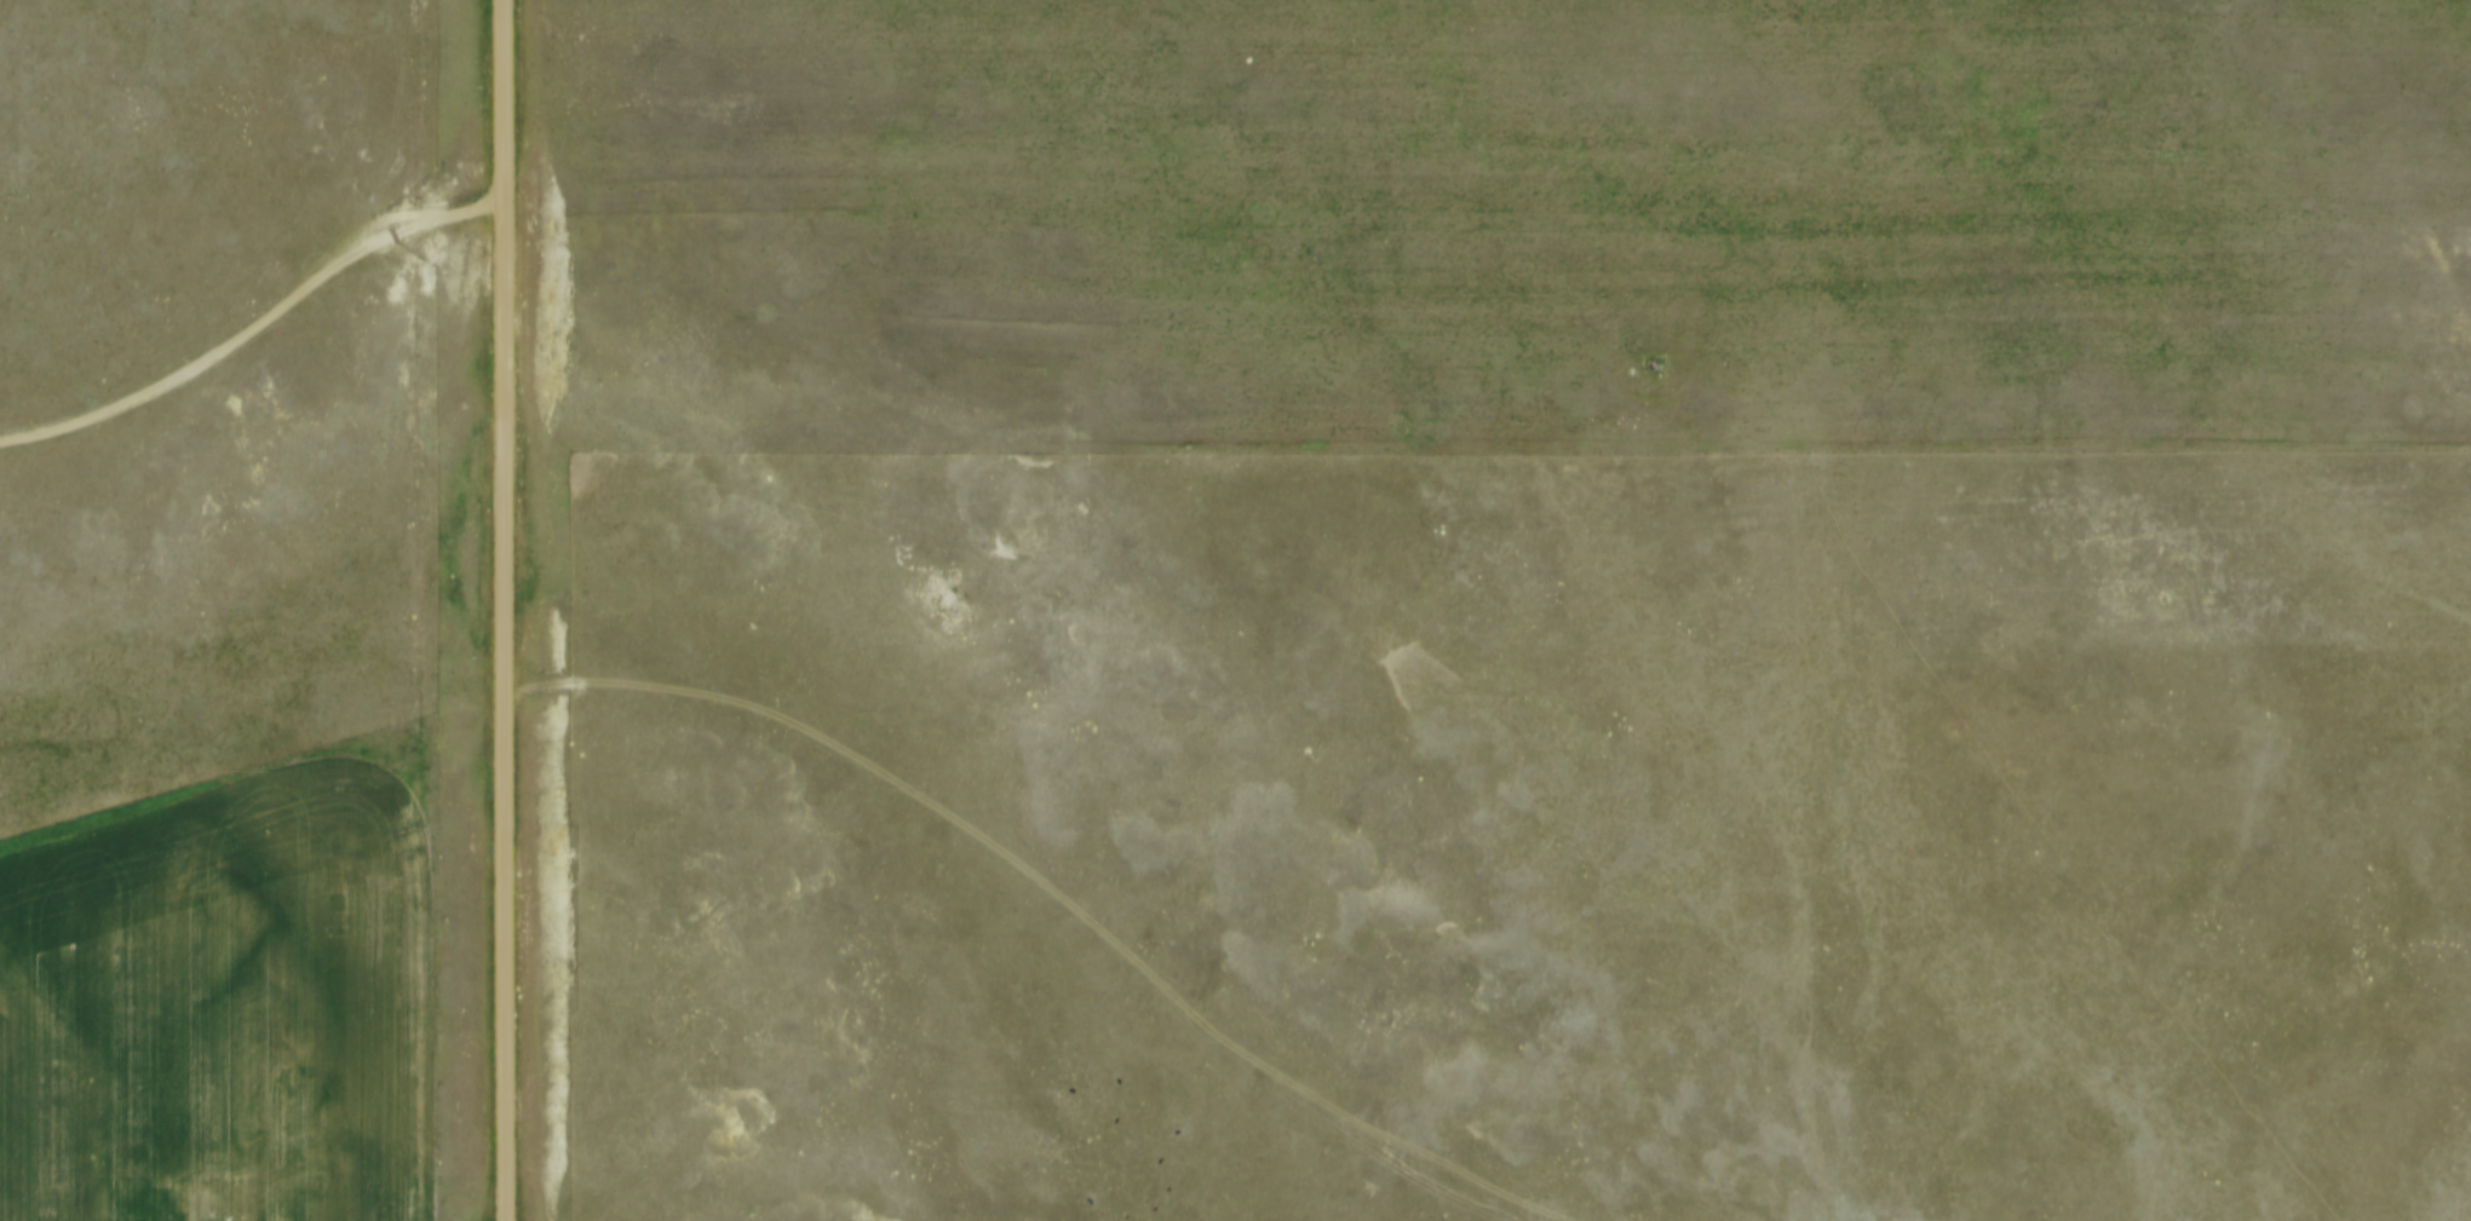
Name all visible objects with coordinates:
road: (499, 105)
road: (253, 333)
road: (499, 715)

